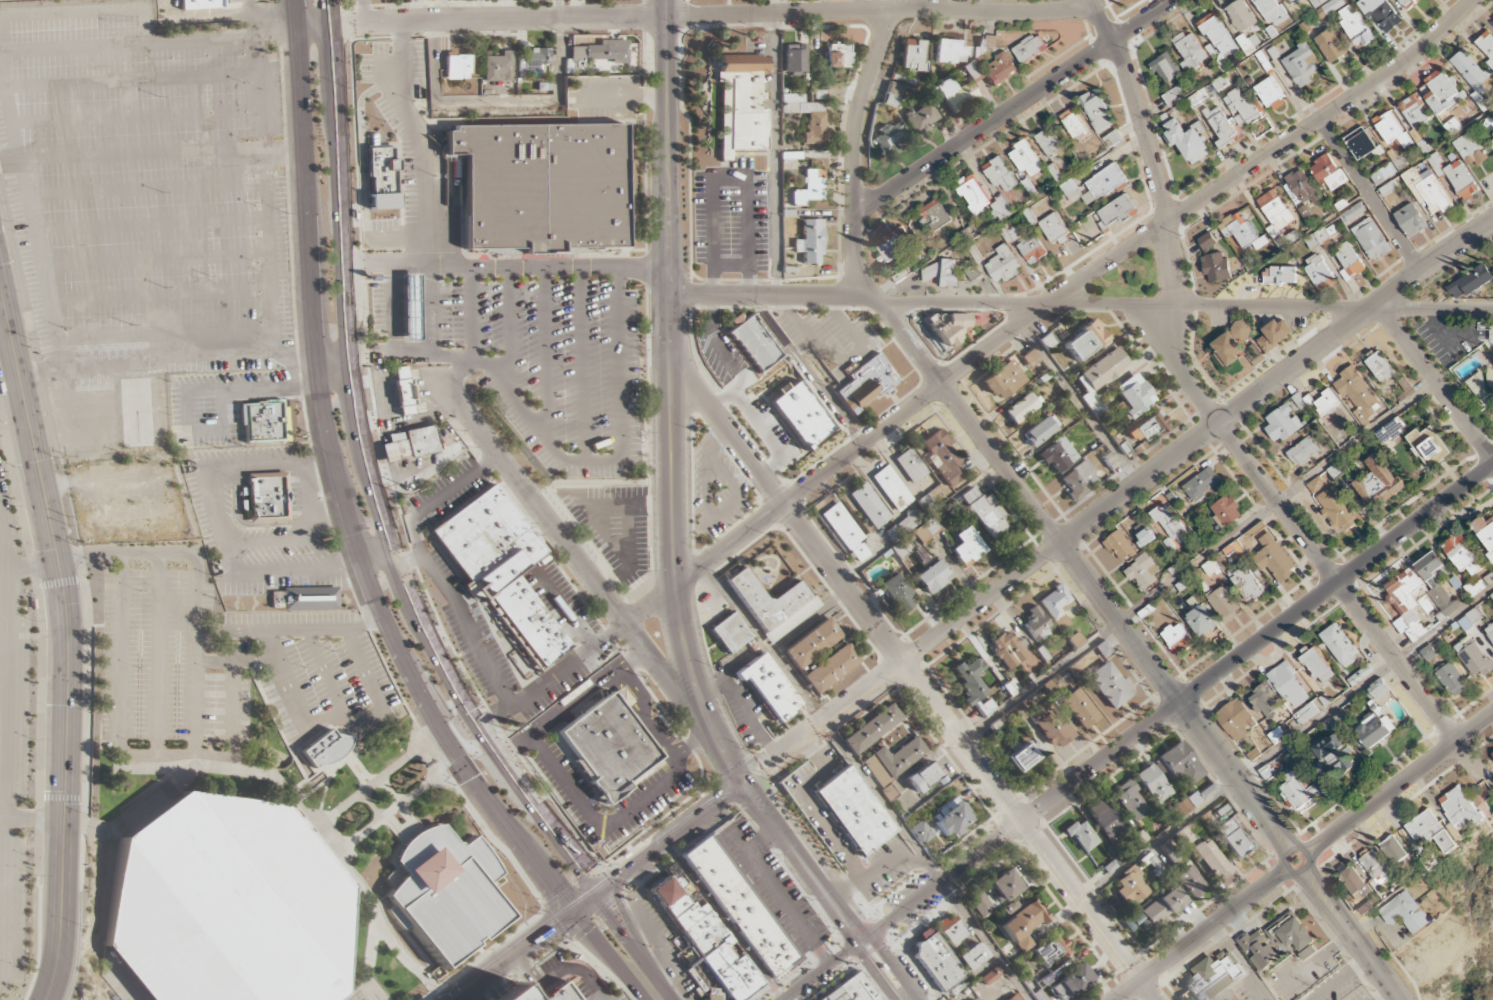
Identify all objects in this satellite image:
building: (1407, 2)
building: (200, 5)
building: (1333, 7)
road: (667, 9)
road: (880, 10)
road: (362, 12)
building: (1272, 12)
road: (329, 13)
building: (1383, 15)
building: (1240, 16)
road: (498, 20)
road: (313, 27)
building: (1355, 27)
building: (1218, 36)
building: (1486, 43)
building: (1331, 46)
building: (1029, 49)
building: (952, 51)
building: (1190, 52)
building: (598, 53)
building: (913, 55)
building: (837, 56)
building: (794, 58)
building: (534, 59)
building: (741, 64)
building: (1301, 65)
building: (458, 67)
building: (1165, 67)
building: (498, 68)
building: (999, 70)
building: (972, 71)
building: (1471, 76)
building: (1441, 92)
building: (952, 93)
building: (891, 95)
building: (1270, 95)
road: (619, 98)
road: (505, 105)
building: (1242, 105)
road: (1015, 107)
building: (1413, 111)
building: (1097, 112)
building: (740, 113)
building: (808, 118)
building: (920, 118)
building: (1073, 123)
building: (1220, 125)
building: (1390, 129)
building: (888, 135)
building: (1186, 139)
road: (418, 142)
building: (1050, 143)
building: (1362, 144)
road: (360, 146)
building: (1491, 147)
road: (774, 148)
building: (1470, 149)
road: (1145, 150)
road: (668, 157)
road: (853, 157)
building: (1026, 159)
building: (1328, 172)
building: (1000, 174)
building: (1383, 174)
road: (729, 177)
building: (382, 179)
road: (338, 182)
building: (1104, 183)
building: (542, 187)
building: (1302, 187)
building: (808, 188)
building: (1427, 190)
building: (974, 195)
road: (1371, 196)
building: (1000, 209)
building: (1118, 210)
building: (1352, 213)
building: (929, 219)
building: (1411, 220)
building: (1055, 229)
building: (1241, 231)
building: (970, 233)
building: (1014, 234)
building: (1321, 235)
road: (397, 237)
building: (1371, 239)
building: (1207, 241)
building: (810, 242)
building: (894, 243)
building: (1032, 248)
building: (1349, 262)
building: (1003, 264)
road: (730, 266)
building: (1216, 267)
road: (506, 268)
building: (1318, 270)
building: (973, 272)
building: (942, 273)
building: (1279, 276)
building: (1470, 283)
road: (1081, 304)
road: (1047, 307)
building: (412, 309)
gas station: (412, 309)
road: (395, 311)
road: (427, 311)
road: (470, 313)
road: (1354, 321)
road: (508, 324)
road: (310, 326)
building: (1242, 329)
building: (1275, 335)
road: (671, 338)
building: (1085, 341)
building: (753, 343)
building: (1227, 349)
road: (545, 352)
road: (330, 359)
road: (407, 359)
building: (1031, 361)
road: (579, 364)
building: (1380, 367)
road: (1182, 369)
road: (807, 372)
road: (456, 373)
building: (1098, 377)
building: (1004, 380)
road: (1435, 381)
building: (866, 383)
building: (404, 392)
building: (1357, 393)
building: (1133, 395)
building: (1326, 402)
road: (1079, 405)
building: (1021, 408)
building: (802, 414)
road: (408, 419)
building: (264, 422)
building: (1282, 424)
building: (1148, 427)
building: (1041, 430)
building: (409, 445)
building: (1428, 446)
building: (1303, 451)
building: (1058, 455)
building: (943, 458)
road: (614, 461)
building: (911, 466)
building: (1078, 480)
building: (1378, 481)
building: (1201, 484)
building: (1316, 485)
building: (892, 489)
building: (267, 498)
road: (1278, 503)
building: (869, 506)
building: (597, 509)
building: (1337, 509)
building: (1226, 511)
building: (985, 512)
building: (1168, 523)
road: (1415, 524)
road: (0, 527)
road: (654, 527)
building: (914, 530)
road: (687, 532)
building: (846, 532)
building: (1485, 534)
building: (1146, 537)
road: (3, 544)
building: (1119, 546)
building: (967, 547)
building: (1462, 554)
road: (407, 556)
road: (573, 556)
road: (1071, 558)
building: (1274, 558)
road: (1198, 561)
road: (377, 562)
road: (3, 567)
building: (500, 567)
building: (1142, 572)
building: (933, 577)
building: (1245, 581)
building: (1437, 582)
road: (7, 584)
road: (674, 589)
building: (897, 594)
road: (850, 595)
building: (310, 599)
building: (1424, 599)
building: (1224, 603)
building: (773, 604)
road: (980, 604)
building: (1405, 604)
building: (1056, 605)
road: (4, 606)
road: (564, 607)
building: (1202, 621)
road: (364, 623)
building: (1036, 624)
road: (467, 629)
building: (1490, 632)
building: (729, 633)
road: (426, 635)
building: (1177, 639)
building: (1075, 640)
road: (66, 644)
building: (812, 644)
building: (1339, 645)
building: (1007, 650)
road: (155, 655)
building: (1475, 659)
road: (235, 660)
building: (1317, 665)
building: (831, 668)
road: (324, 674)
road: (1409, 679)
building: (971, 680)
building: (1452, 680)
building: (1109, 685)
road: (372, 686)
building: (1287, 686)
building: (770, 687)
building: (1378, 689)
building: (1264, 701)
road: (1179, 702)
road: (1472, 703)
road: (571, 704)
building: (1079, 708)
road: (492, 717)
road: (191, 720)
building: (1235, 720)
road: (229, 725)
road: (8, 727)
building: (1050, 727)
building: (871, 729)
building: (1374, 729)
road: (462, 735)
road: (692, 743)
road: (1286, 743)
building: (608, 745)
building: (326, 749)
road: (472, 752)
building: (1492, 753)
road: (433, 754)
building: (1334, 754)
building: (1022, 757)
building: (892, 761)
building: (1180, 765)
road: (187, 766)
road: (732, 767)
road: (328, 771)
road: (1415, 771)
road: (758, 774)
building: (923, 778)
road: (475, 781)
road: (279, 782)
road: (866, 782)
building: (1152, 784)
road: (370, 785)
road: (390, 791)
building: (887, 792)
building: (1299, 793)
building: (1129, 800)
road: (640, 801)
road: (371, 805)
road: (144, 808)
building: (1460, 808)
building: (853, 811)
road: (389, 812)
railway: (693, 813)
road: (34, 816)
road: (3, 817)
building: (951, 818)
building: (1103, 819)
road: (1281, 830)
building: (1430, 830)
building: (919, 832)
building: (1081, 836)
road: (670, 837)
building: (1183, 837)
road: (1318, 837)
building: (1233, 838)
road: (1271, 838)
road: (493, 840)
railway: (642, 841)
road: (759, 841)
road: (783, 842)
road: (1321, 846)
road: (1290, 847)
building: (1393, 850)
building: (1168, 852)
building: (1115, 854)
building: (1211, 860)
building: (1153, 865)
building: (1374, 868)
road: (345, 869)
road: (1269, 875)
road: (944, 880)
building: (1353, 880)
building: (1190, 881)
road: (1274, 882)
building: (1004, 885)
building: (1130, 888)
road: (1326, 890)
traffic signals: (598, 892)
building: (445, 893)
road: (844, 895)
road: (5, 896)
road: (779, 897)
road: (1314, 898)
road: (585, 901)
building: (226, 903)
stadium: (226, 903)
building: (979, 905)
building: (739, 907)
building: (1158, 909)
road: (77, 910)
road: (1088, 910)
traffic signals: (573, 911)
building: (1405, 913)
road: (846, 918)
building: (1023, 920)
road: (721, 921)
park: (1469, 922)
road: (841, 923)
building: (950, 931)
road: (625, 932)
building: (1292, 936)
building: (706, 941)
road: (862, 942)
building: (1023, 943)
road: (1185, 945)
road: (392, 948)
road: (603, 948)
road: (519, 949)
building: (1051, 950)
building: (1257, 950)
road: (369, 953)
road: (482, 955)
building: (971, 956)
road: (401, 958)
road: (1369, 959)
building: (937, 962)
road: (410, 966)
parking lot: (552, 967)
road: (890, 967)
road: (570, 968)
road: (821, 972)
road: (876, 973)
building: (989, 976)
road: (517, 977)
building: (1214, 977)
building: (1070, 980)
road: (125, 981)
road: (426, 982)
railway: (899, 985)
parking lot: (593, 989)
road: (648, 989)
building: (850, 989)
road: (361, 993)
building: (561, 993)
road: (460, 994)
road: (471, 994)
building: (509, 994)
parking lot: (509, 994)
road: (531, 996)
building: (1012, 997)

